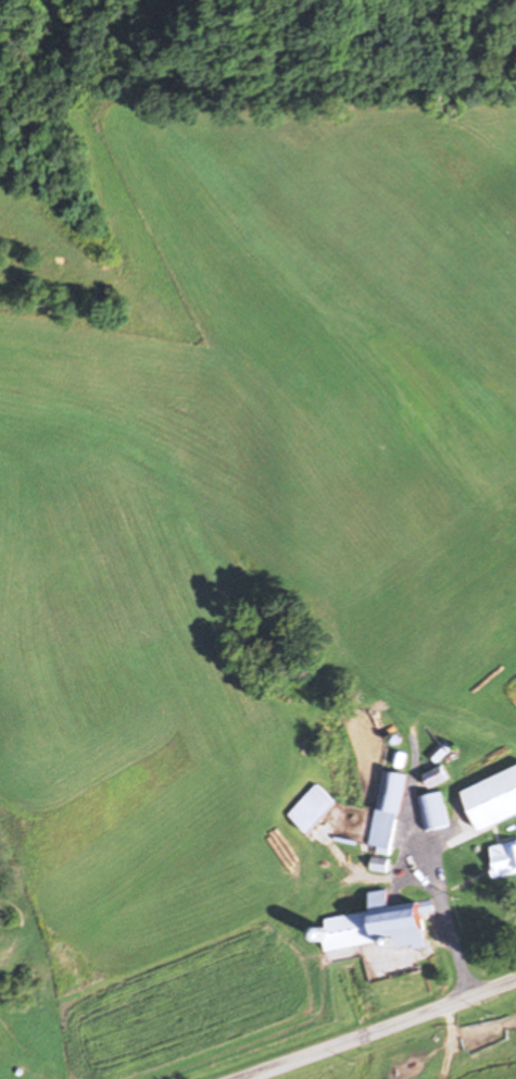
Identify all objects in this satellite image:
building: (440, 778)
building: (494, 801)
building: (315, 810)
building: (390, 810)
building: (435, 814)
building: (505, 859)
road: (444, 920)
building: (382, 926)
road: (373, 1027)

